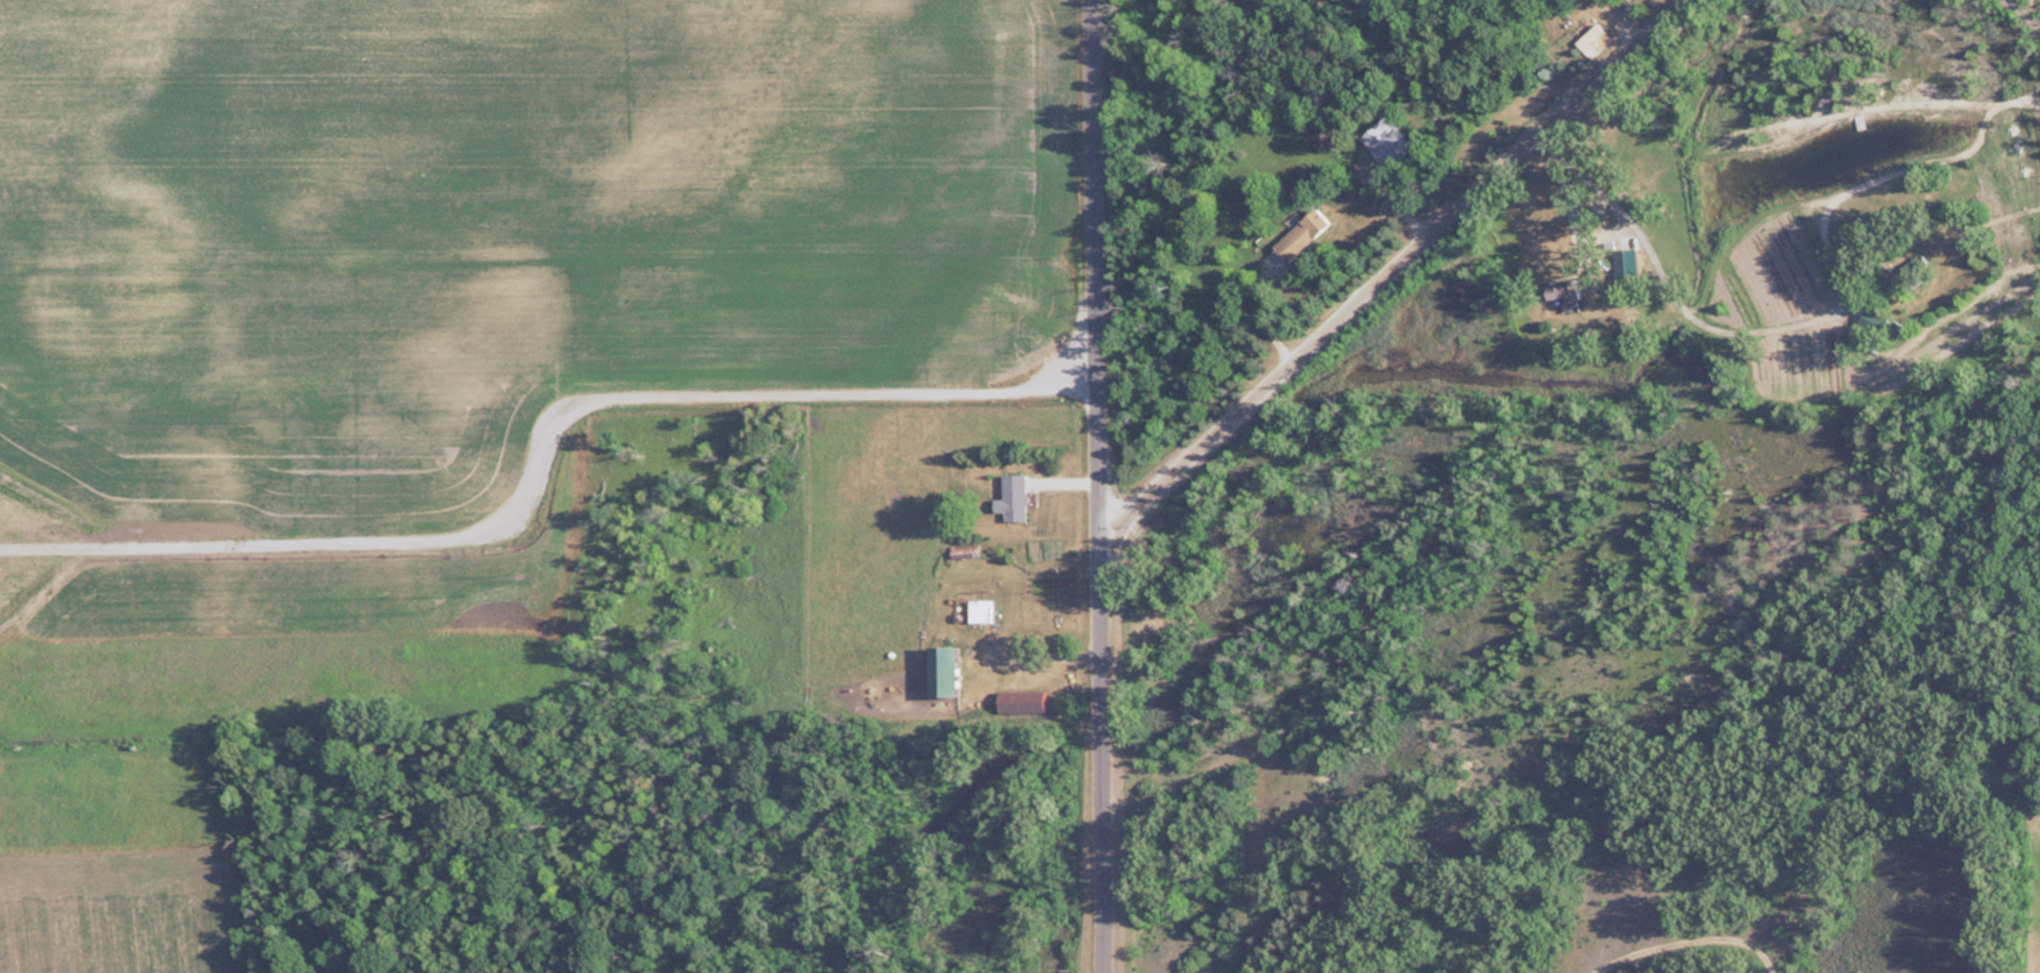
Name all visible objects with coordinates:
road: (1990, 27)
building: (1593, 40)
building: (1386, 142)
building: (1301, 234)
building: (1623, 263)
road: (1392, 270)
building: (1900, 273)
road: (1667, 276)
building: (1560, 290)
building: (1870, 320)
road: (1100, 486)
building: (1012, 496)
building: (979, 610)
building: (940, 671)
building: (1020, 701)
road: (1903, 798)
road: (1788, 924)

